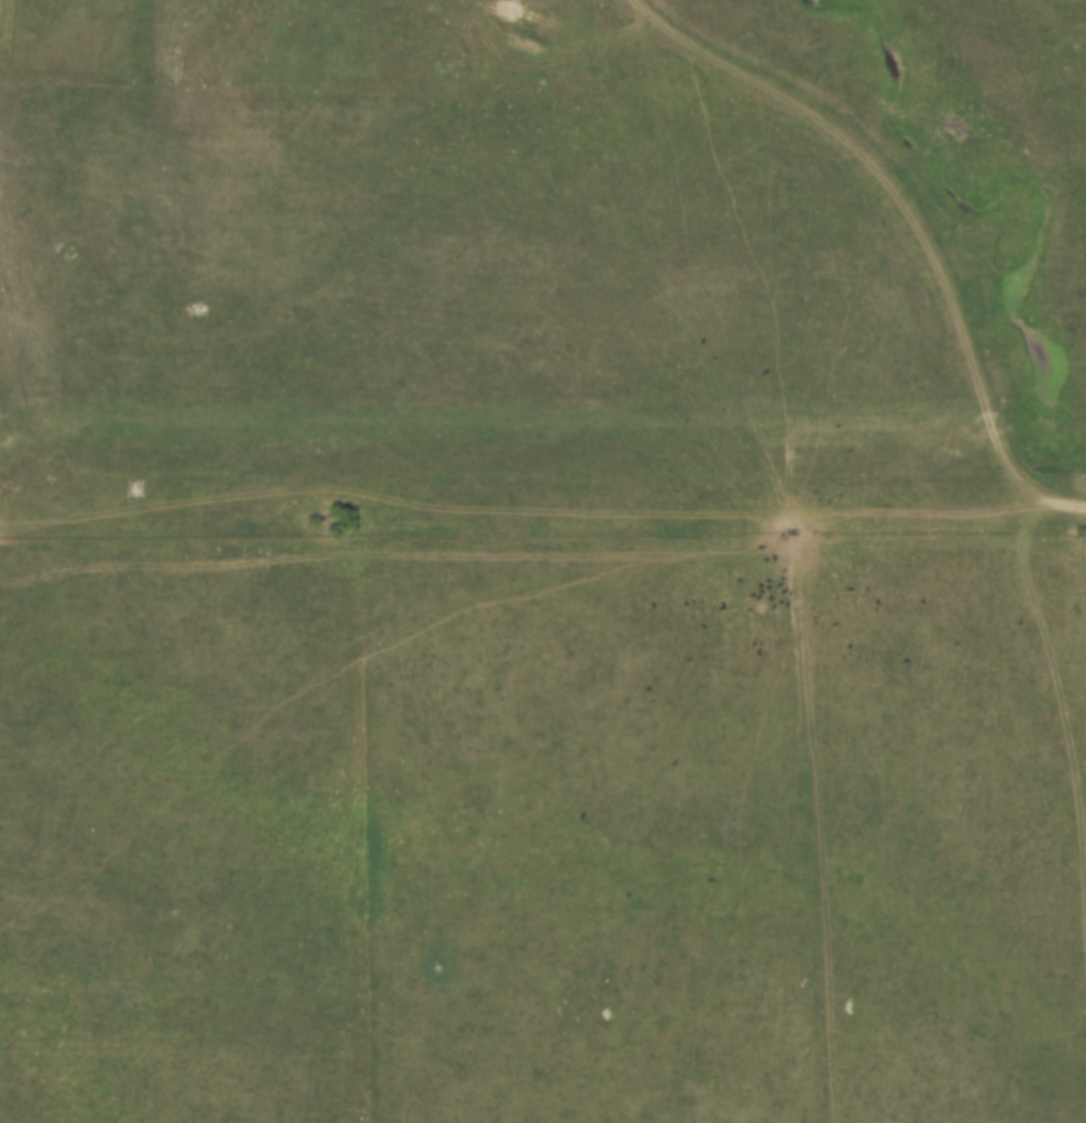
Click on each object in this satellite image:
road: (908, 213)
road: (540, 514)

